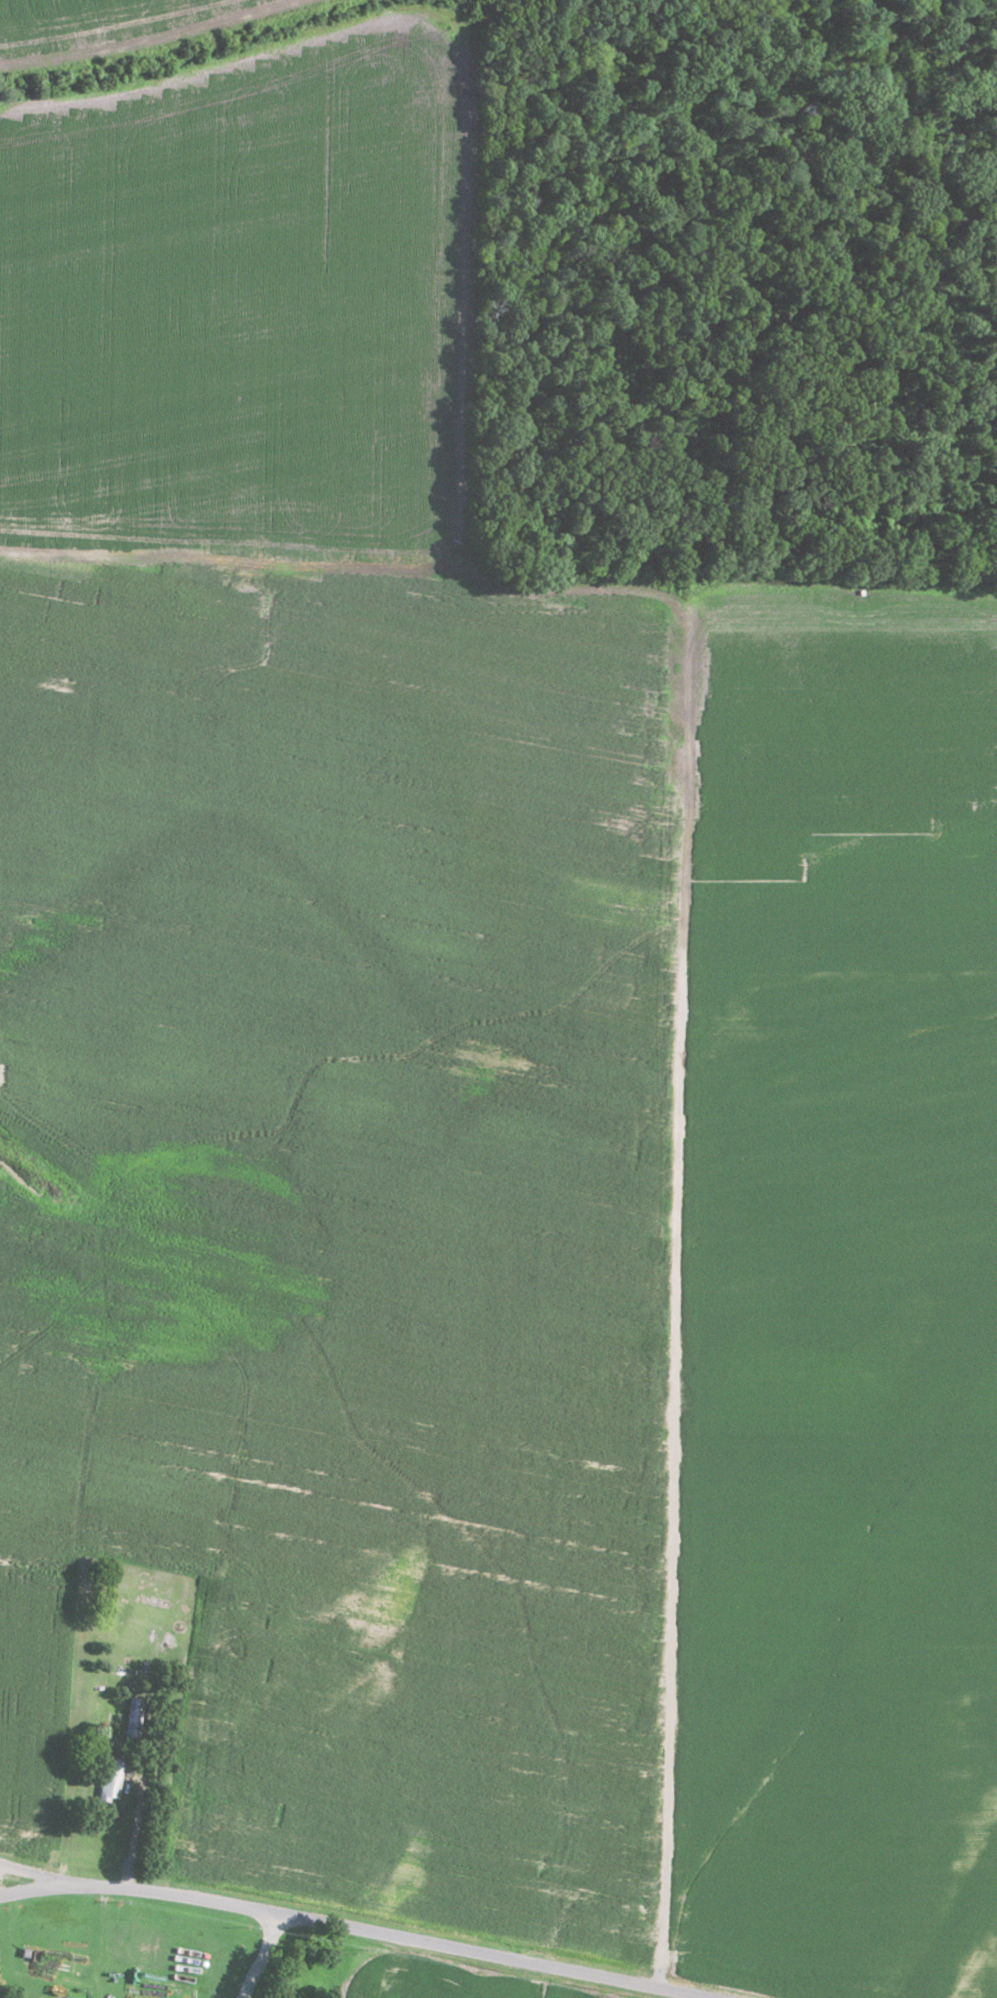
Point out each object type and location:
building: (138, 1716)
building: (115, 1777)
road: (148, 1788)
road: (50, 1875)
road: (357, 1929)
road: (263, 1956)
road: (102, 1968)

